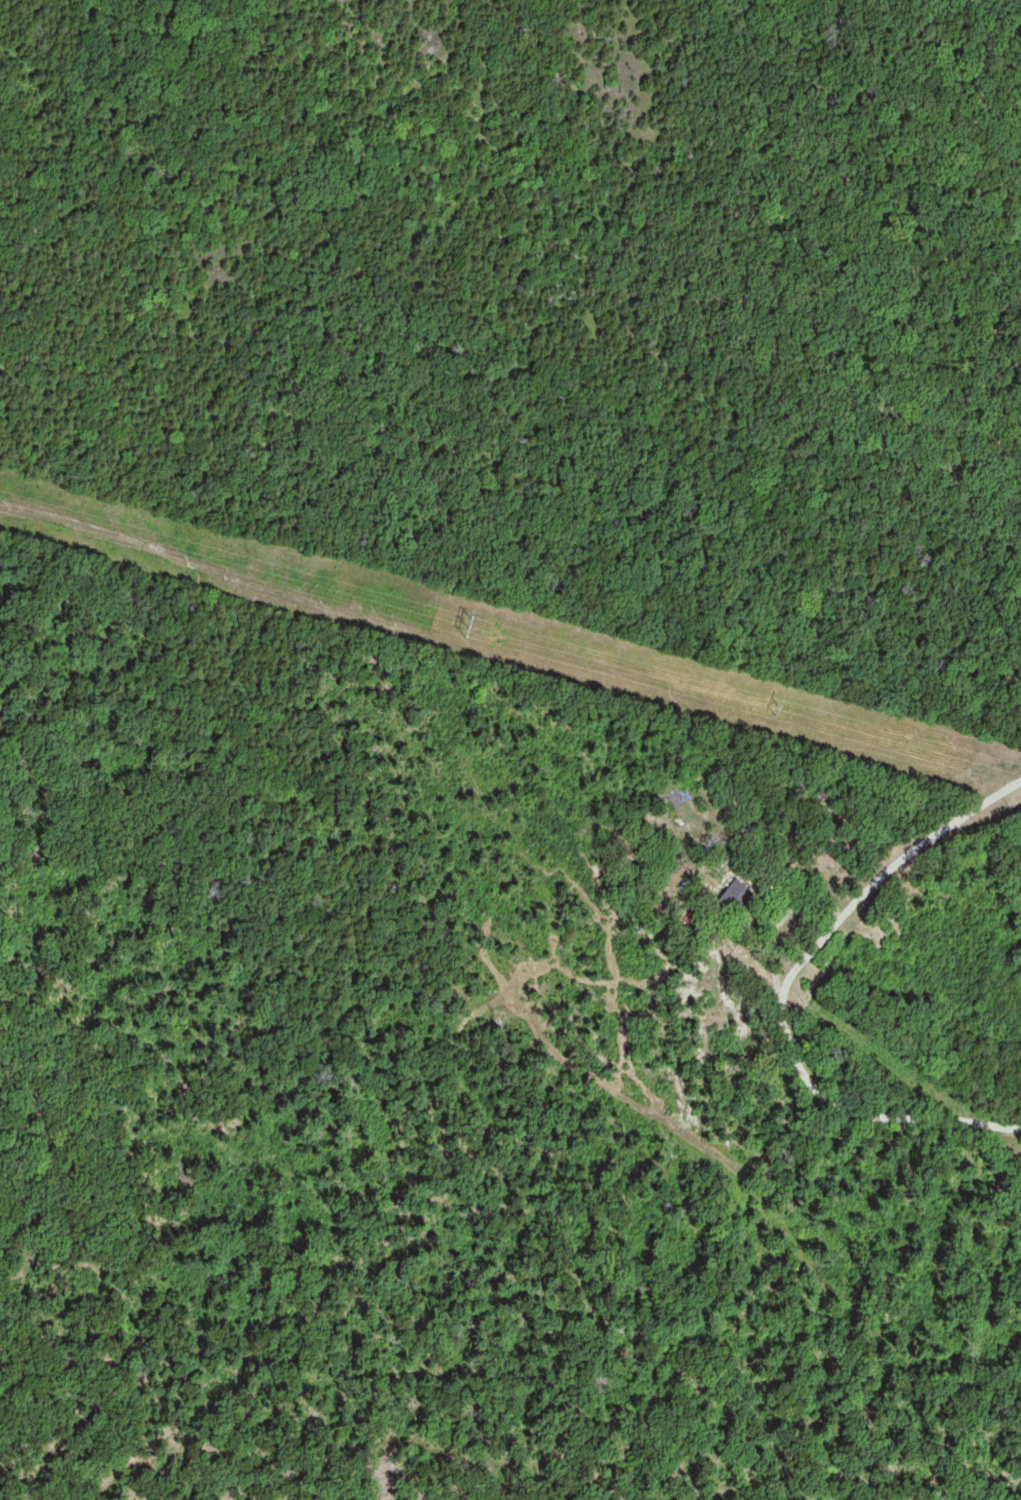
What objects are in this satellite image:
road: (956, 828)
building: (728, 891)
road: (801, 1063)

